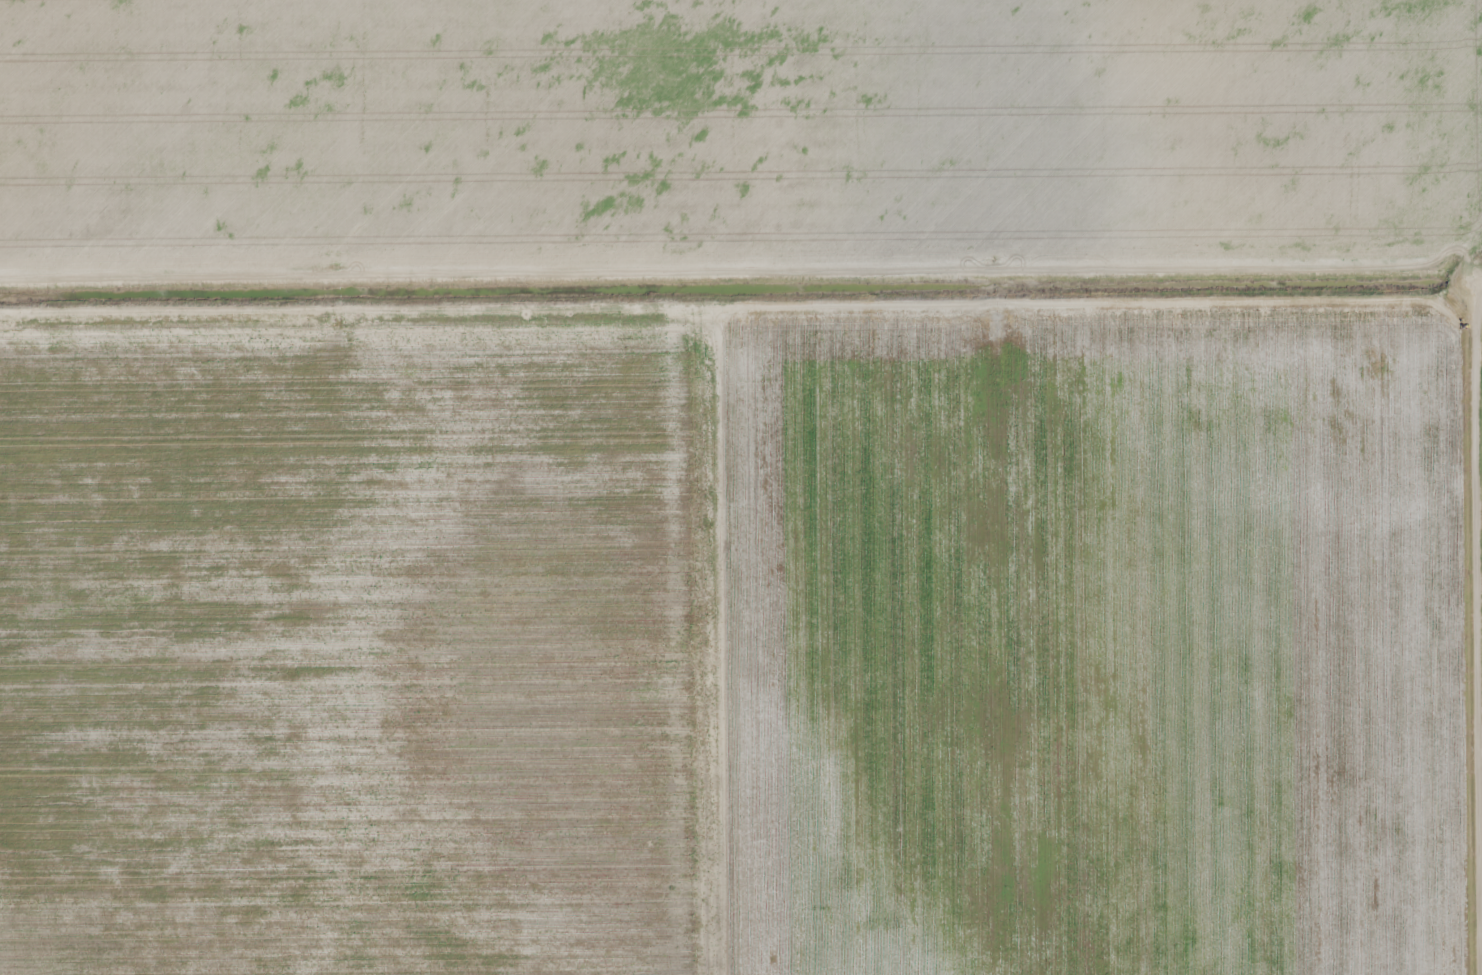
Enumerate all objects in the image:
road: (732, 279)
road: (1465, 599)

